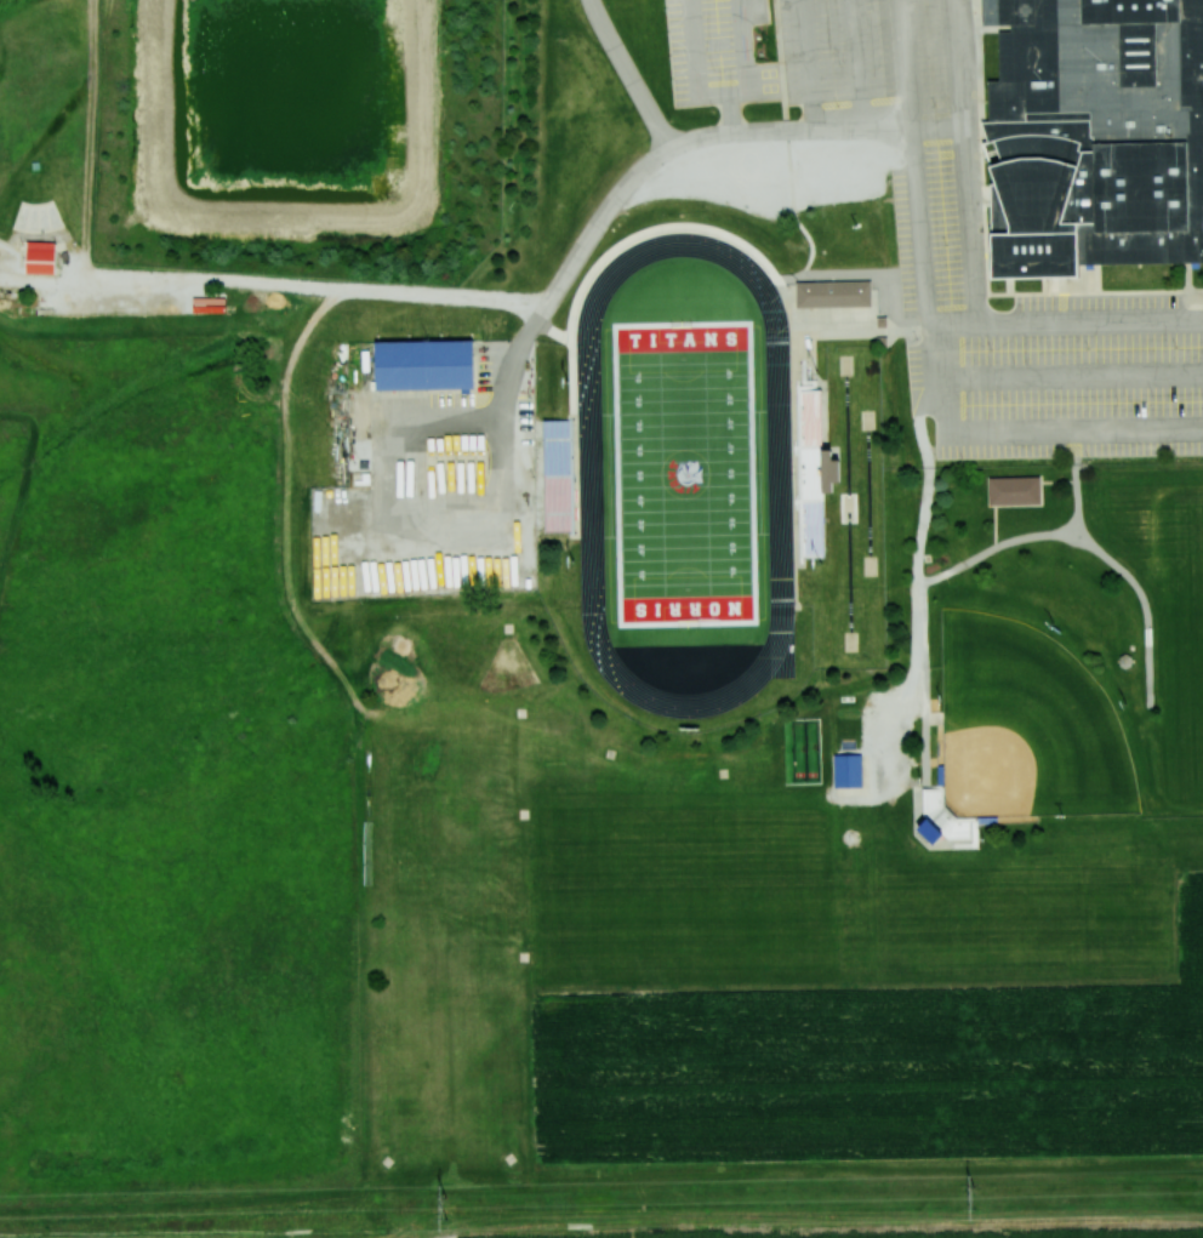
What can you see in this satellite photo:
road: (986, 29)
road: (804, 46)
road: (745, 56)
road: (696, 61)
road: (860, 69)
road: (629, 75)
road: (811, 112)
road: (729, 113)
building: (1097, 135)
road: (788, 153)
road: (965, 160)
road: (985, 179)
road: (713, 232)
building: (38, 256)
road: (1190, 278)
road: (306, 285)
road: (1067, 289)
road: (1088, 292)
building: (832, 293)
road: (542, 312)
road: (1067, 319)
road: (854, 330)
road: (553, 331)
road: (935, 342)
building: (421, 363)
road: (1072, 370)
building: (826, 468)
park: (683, 470)
track: (684, 474)
road: (1057, 481)
road: (1077, 484)
building: (1013, 489)
track: (870, 492)
track: (849, 504)
road: (993, 526)
road: (1083, 543)
road: (917, 628)
park: (1180, 646)
track: (781, 649)
park: (1025, 723)
building: (846, 770)
power tower: (974, 1193)
power tower: (445, 1205)

